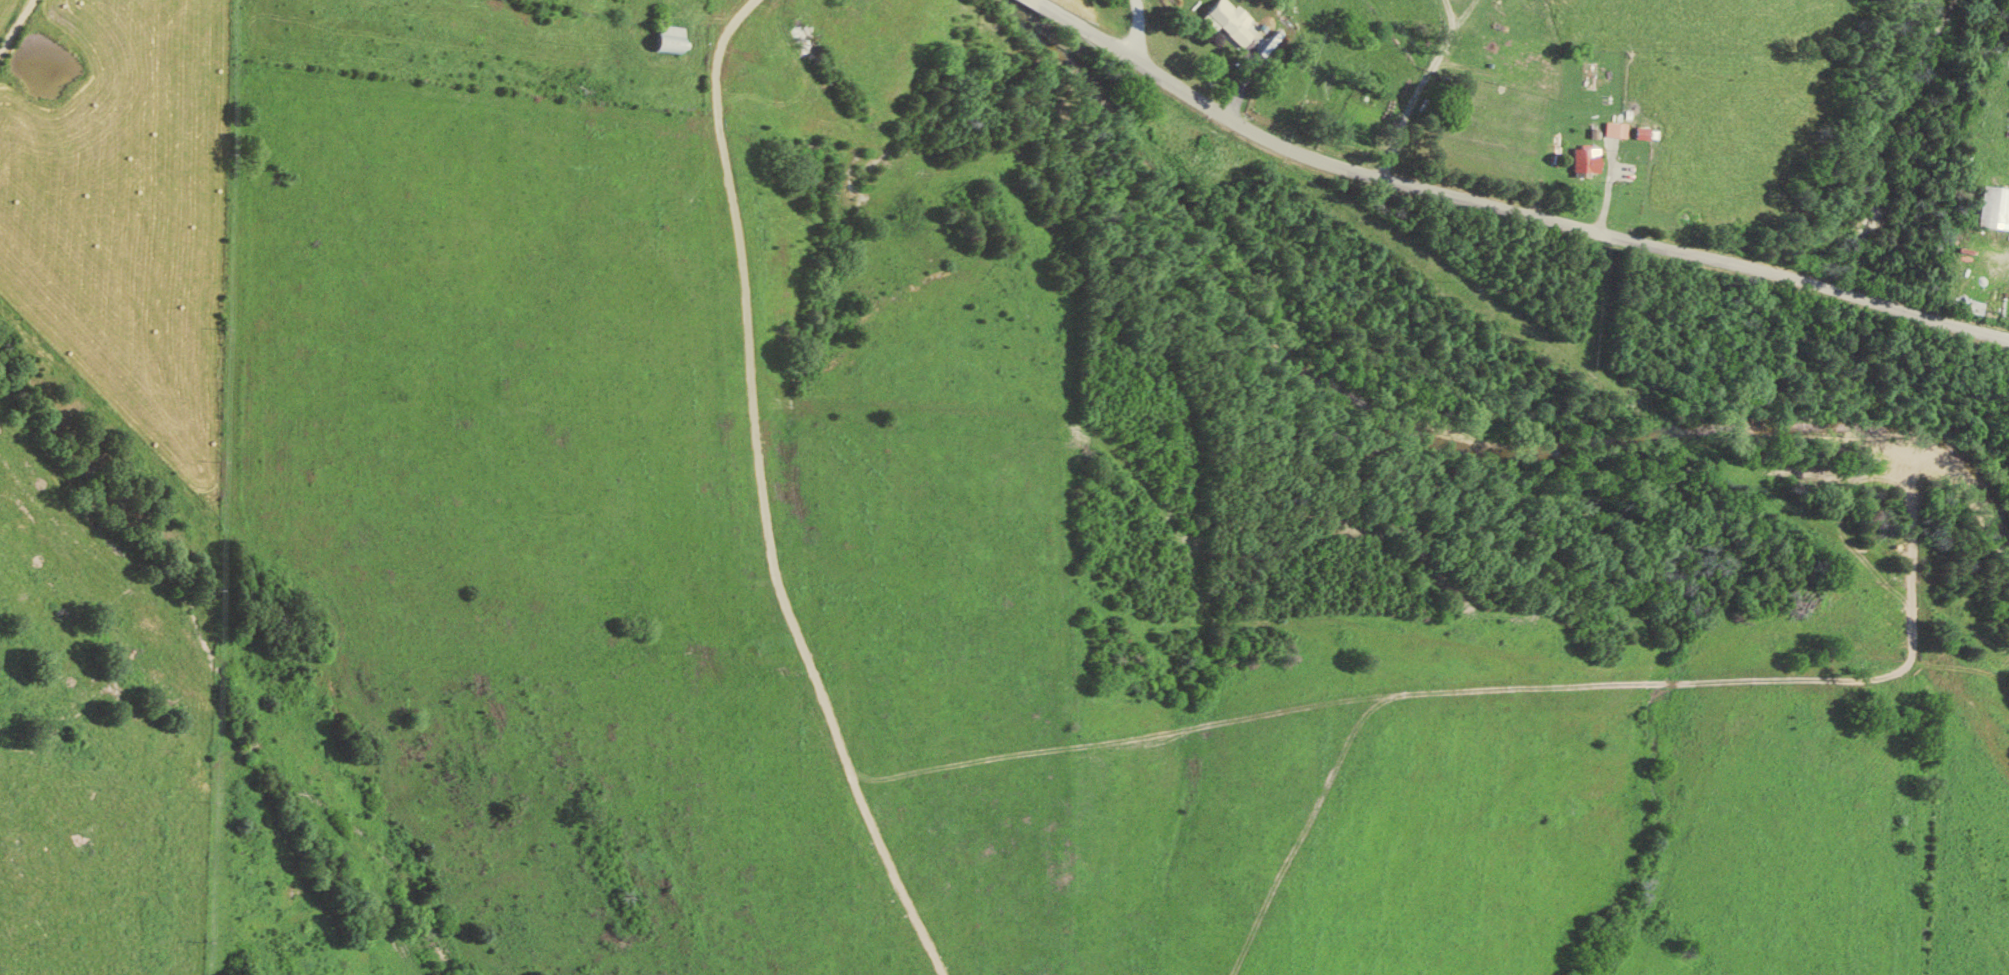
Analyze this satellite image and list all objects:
building: (1235, 20)
road: (1131, 25)
road: (734, 27)
building: (674, 39)
road: (1413, 84)
building: (1622, 129)
building: (1648, 132)
building: (1591, 160)
road: (1619, 199)
building: (1997, 207)
road: (1505, 209)

